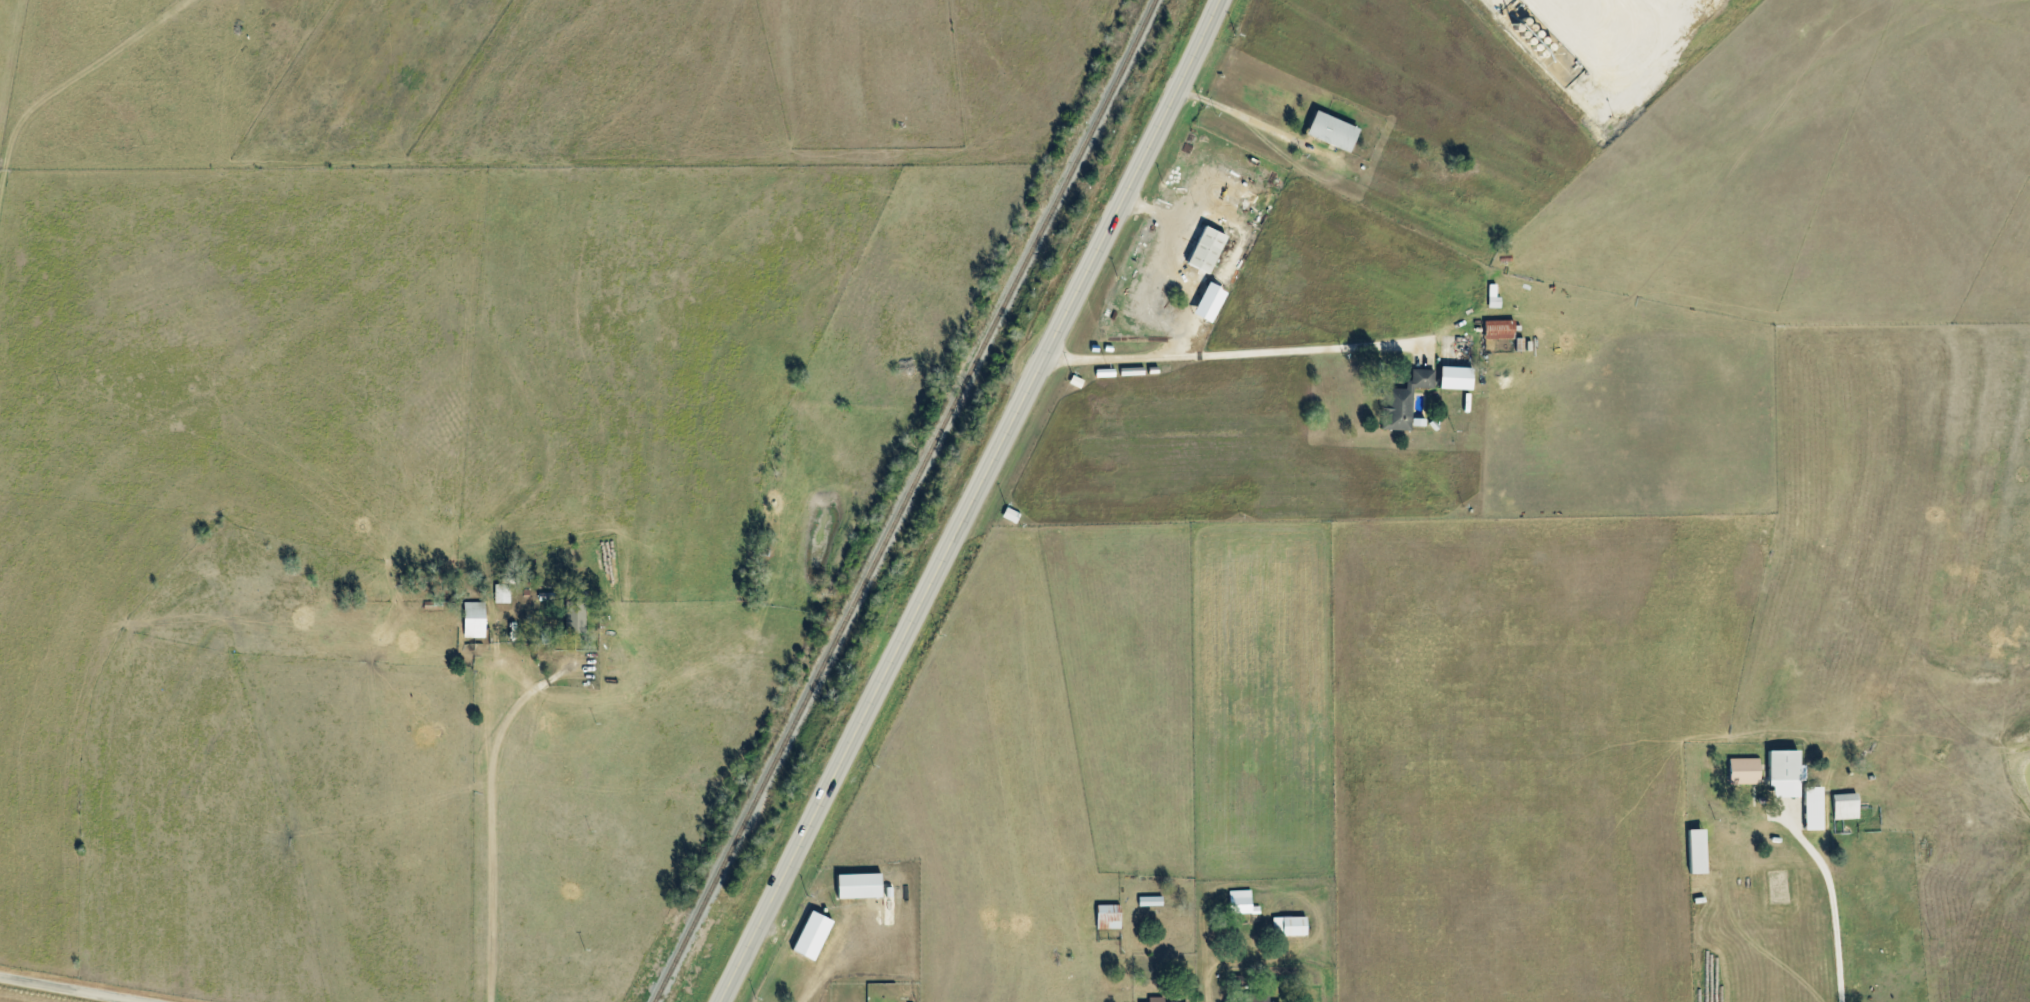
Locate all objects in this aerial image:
road: (1588, 36)
road: (99, 67)
building: (1328, 131)
building: (1202, 250)
building: (1491, 297)
building: (1205, 302)
road: (1180, 321)
building: (1497, 329)
road: (1295, 350)
building: (1452, 378)
building: (1403, 402)
railway: (905, 501)
road: (977, 504)
building: (500, 594)
building: (573, 614)
building: (471, 620)
building: (1741, 771)
building: (1782, 772)
building: (1843, 806)
building: (1811, 808)
road: (490, 826)
building: (1692, 851)
road: (1829, 892)
building: (1148, 901)
building: (1240, 903)
building: (1106, 917)
building: (1287, 926)
building: (808, 935)
road: (82, 987)
building: (1153, 999)

